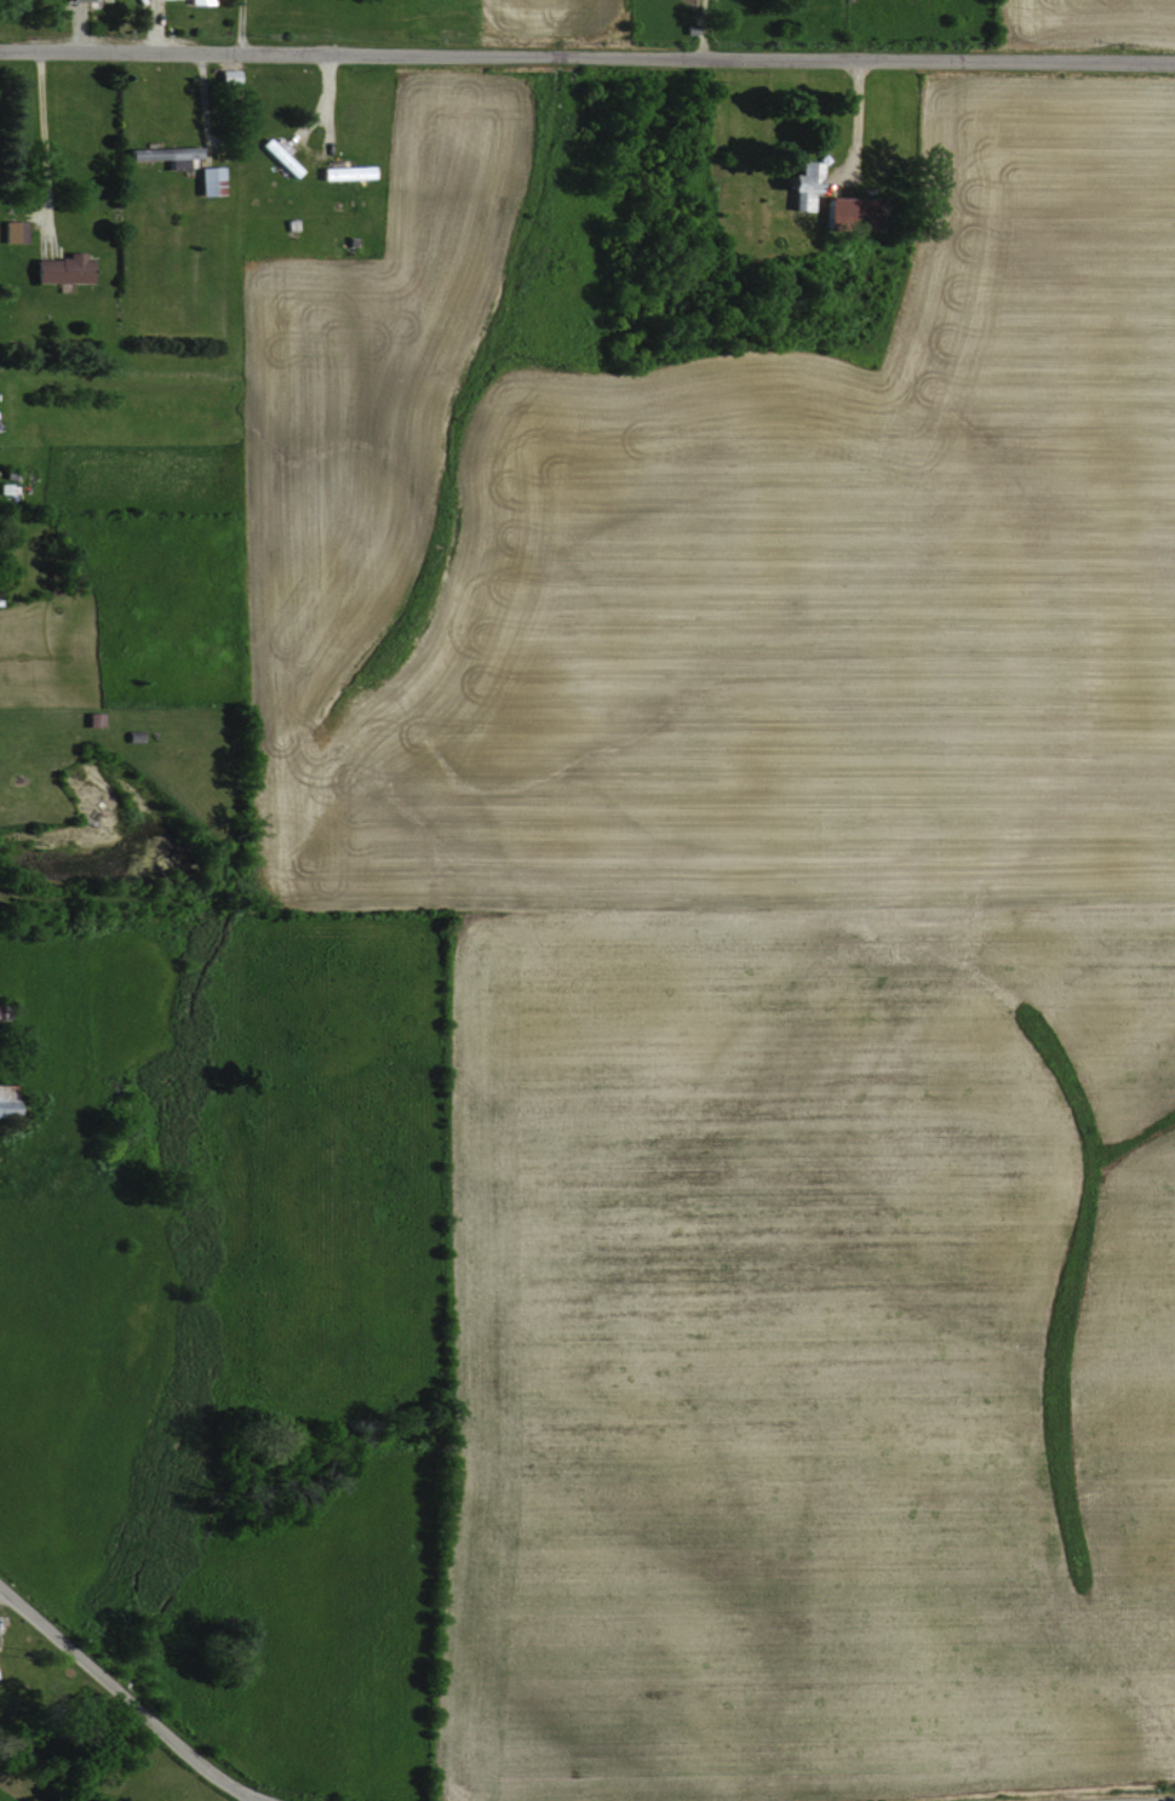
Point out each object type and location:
building: (79, 0)
building: (195, 1)
road: (240, 27)
road: (700, 29)
road: (137, 51)
road: (724, 58)
building: (224, 75)
road: (325, 81)
road: (202, 97)
road: (854, 125)
road: (39, 150)
building: (157, 153)
building: (276, 155)
building: (206, 179)
building: (796, 184)
building: (843, 213)
building: (10, 230)
building: (58, 269)
building: (2, 1096)
road: (5, 1563)
road: (127, 1700)

